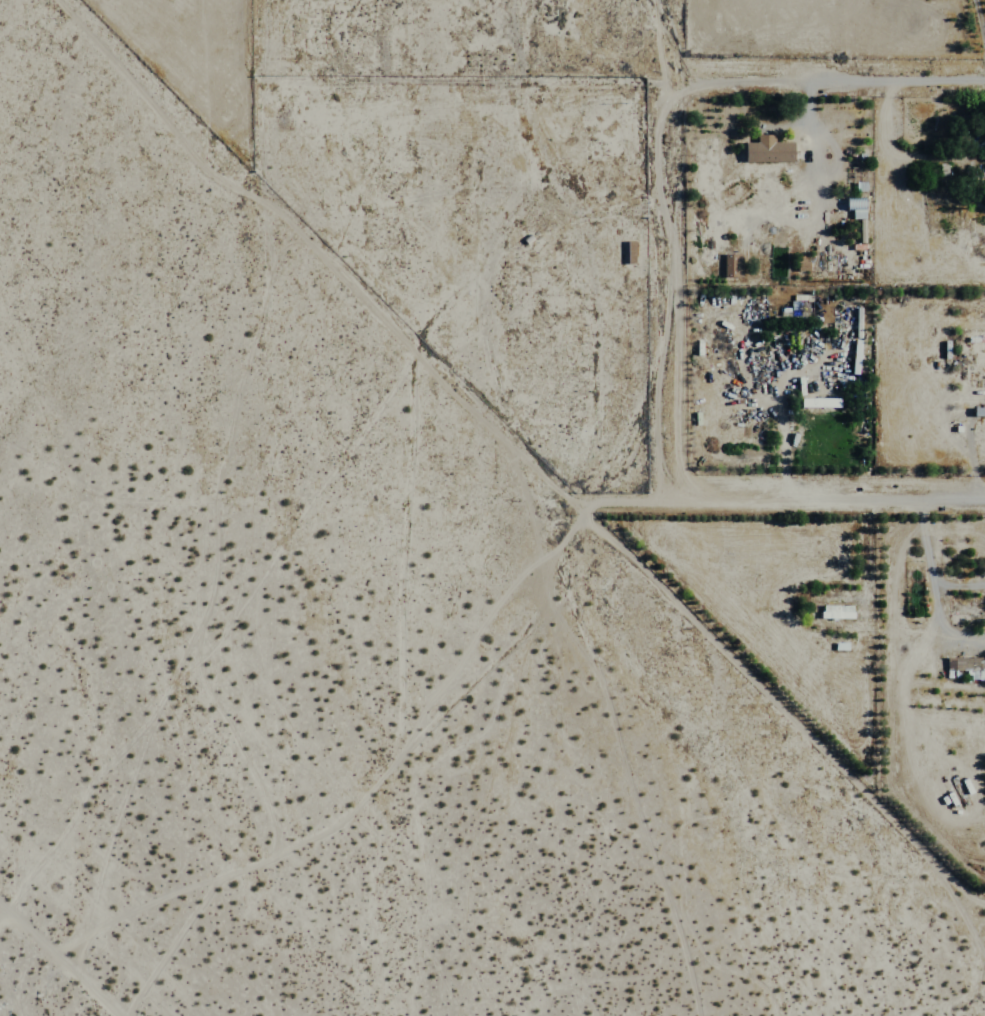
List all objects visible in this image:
road: (977, 26)
road: (761, 74)
road: (666, 248)
building: (631, 253)
building: (734, 266)
building: (852, 357)
building: (815, 402)
road: (826, 497)
building: (833, 612)
building: (966, 666)
road: (65, 952)

